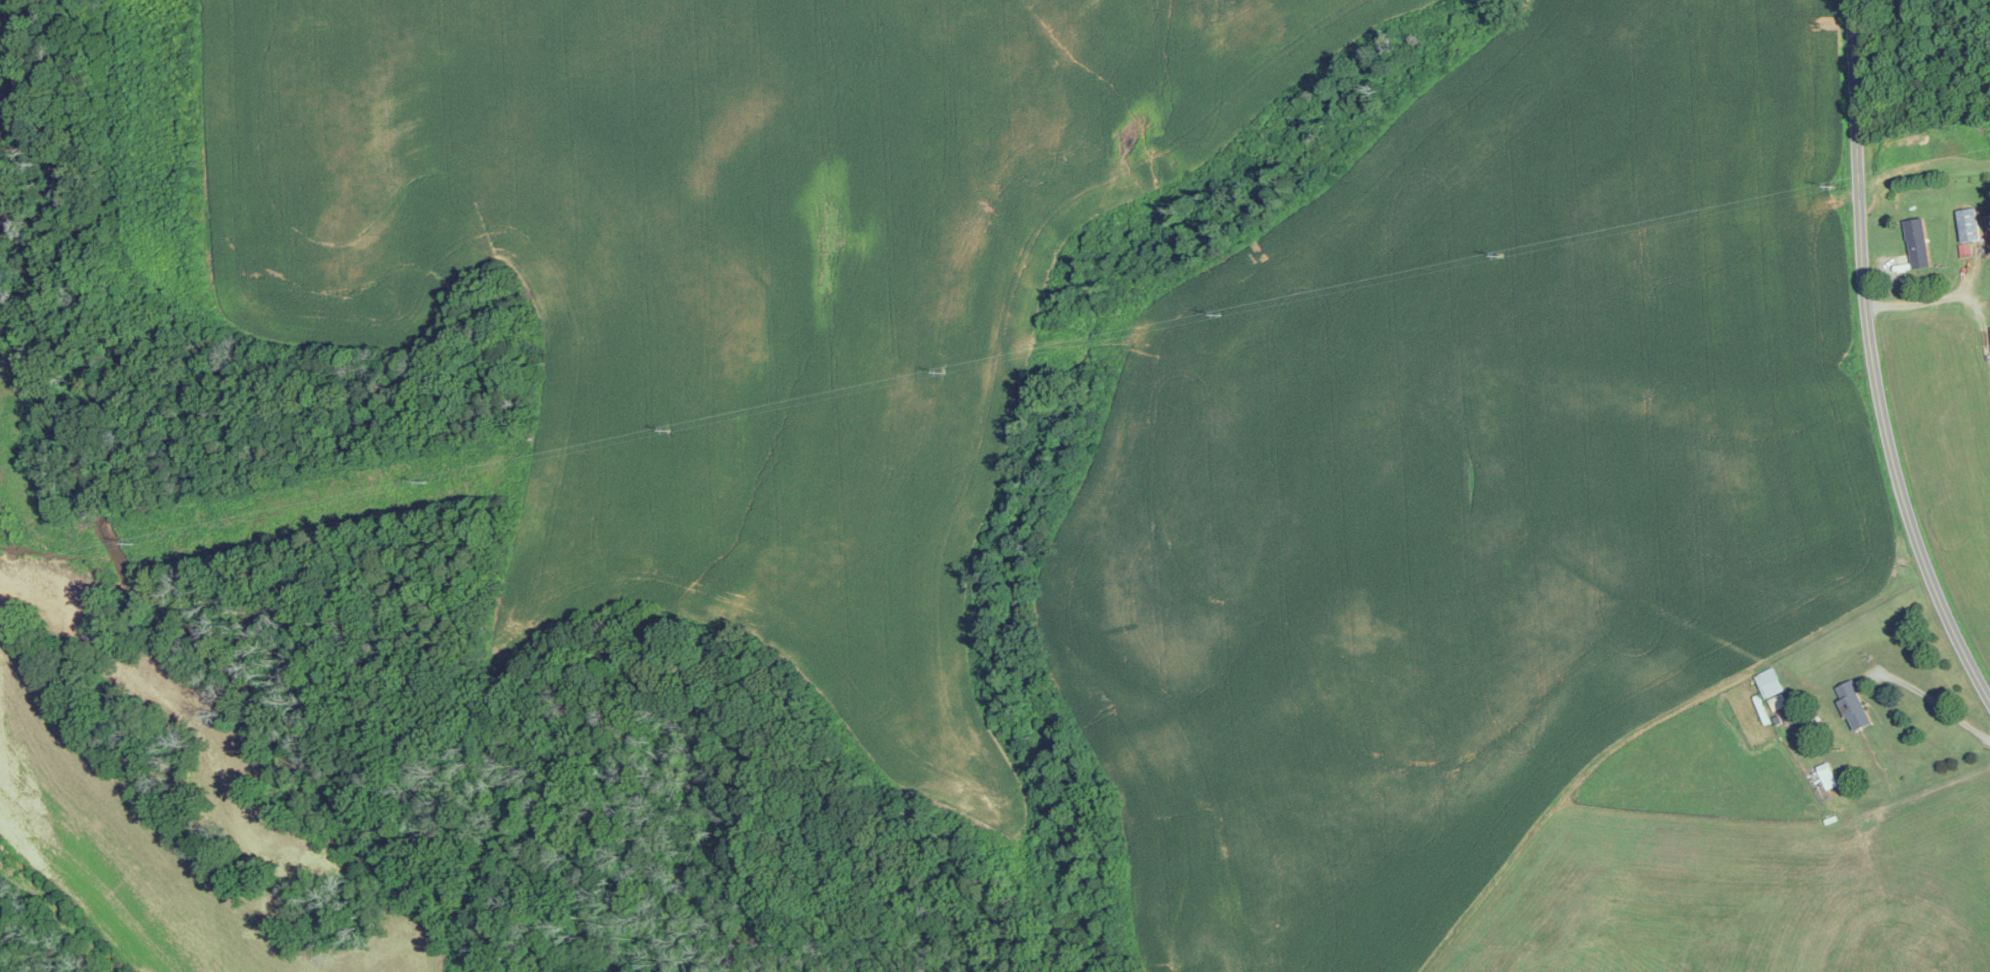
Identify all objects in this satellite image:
building: (1987, 227)
building: (1916, 243)
road: (1947, 298)
road: (1872, 360)
building: (1771, 690)
road: (1932, 699)
building: (1852, 706)

